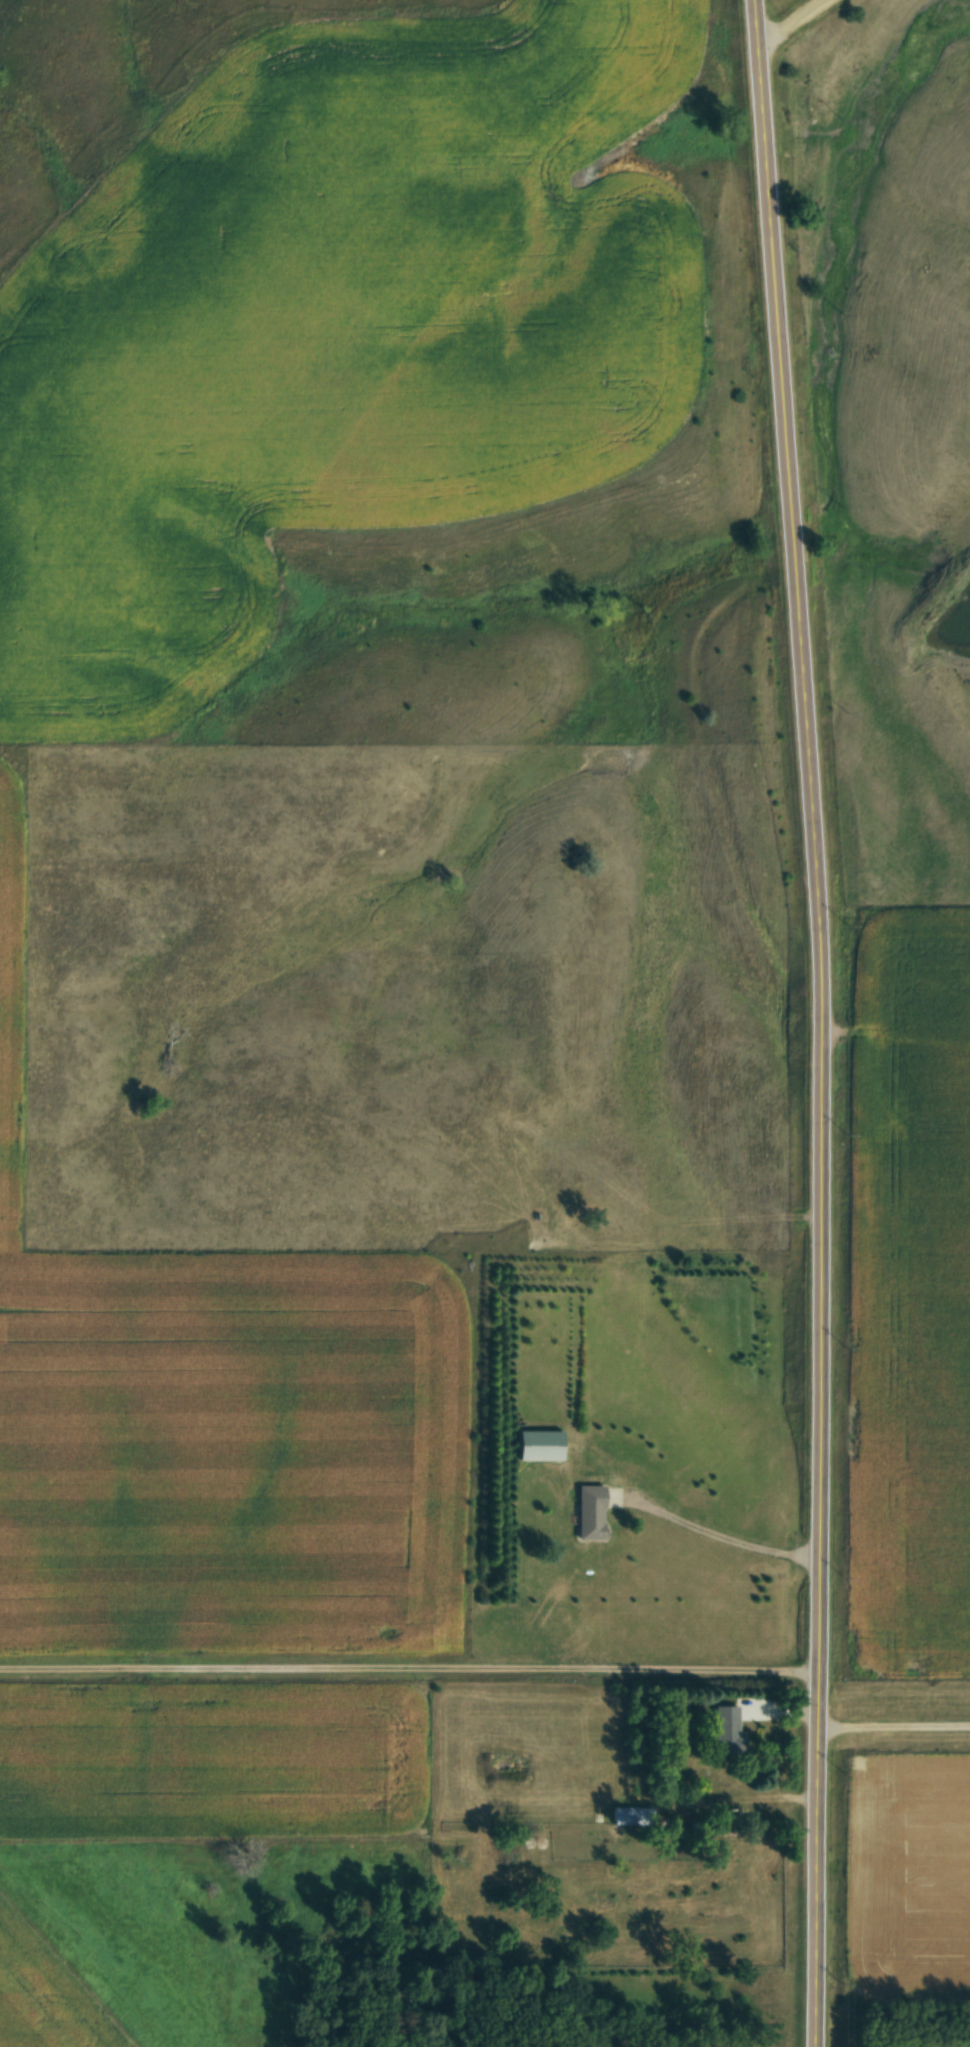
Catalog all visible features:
road: (787, 21)
road: (820, 1022)
building: (538, 1444)
building: (589, 1511)
road: (719, 1537)
road: (410, 1667)
road: (896, 1726)
building: (726, 1730)
building: (631, 1815)

